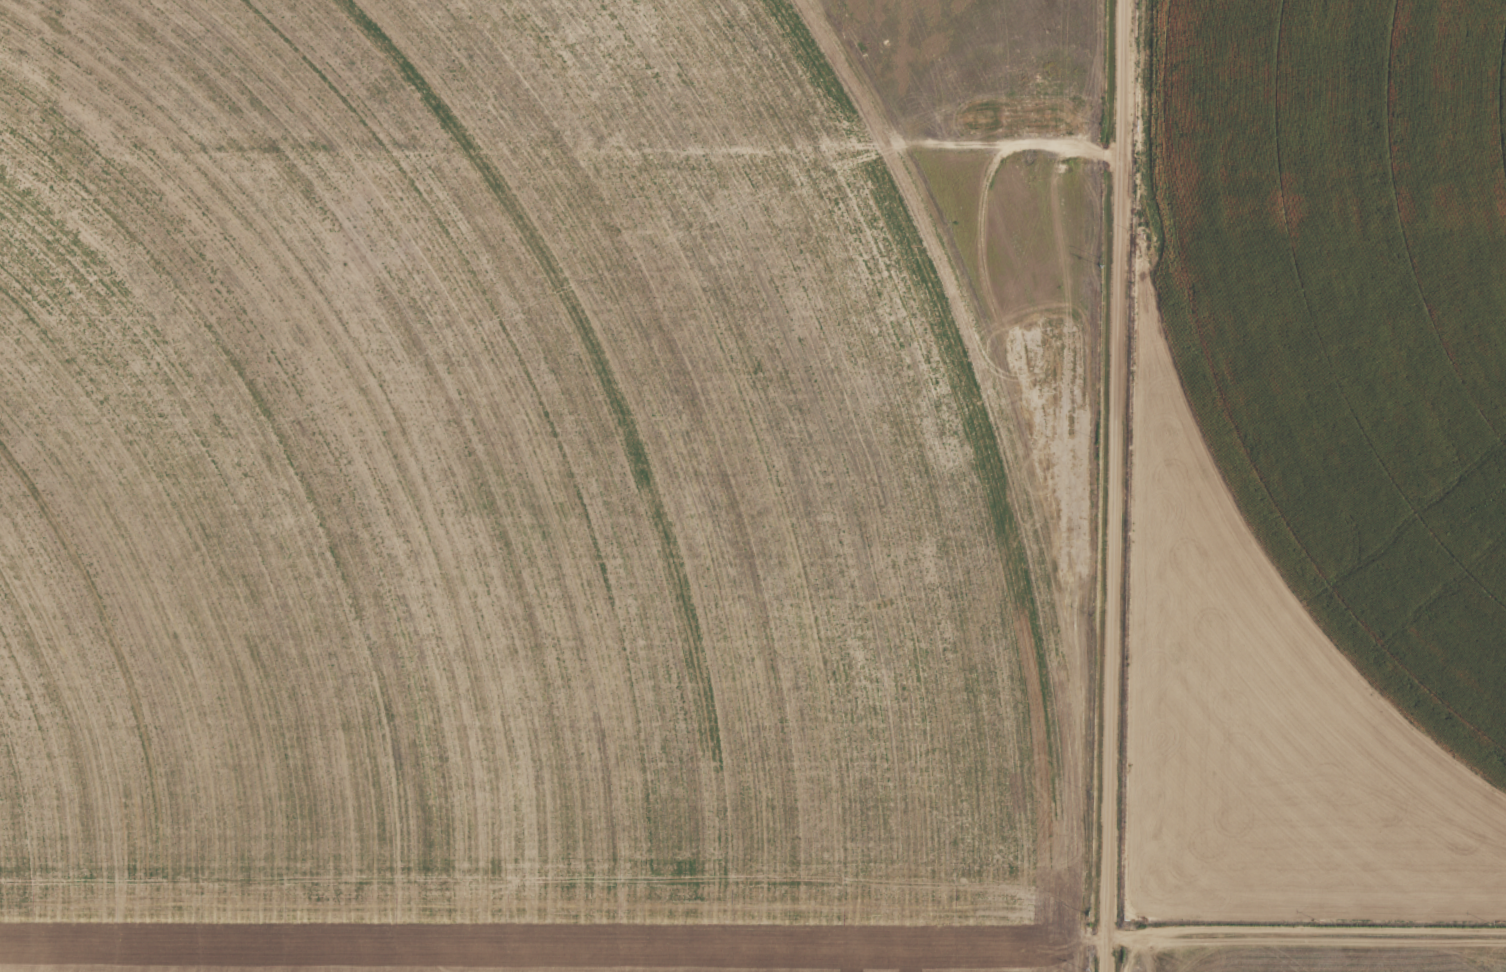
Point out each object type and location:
road: (1113, 486)

